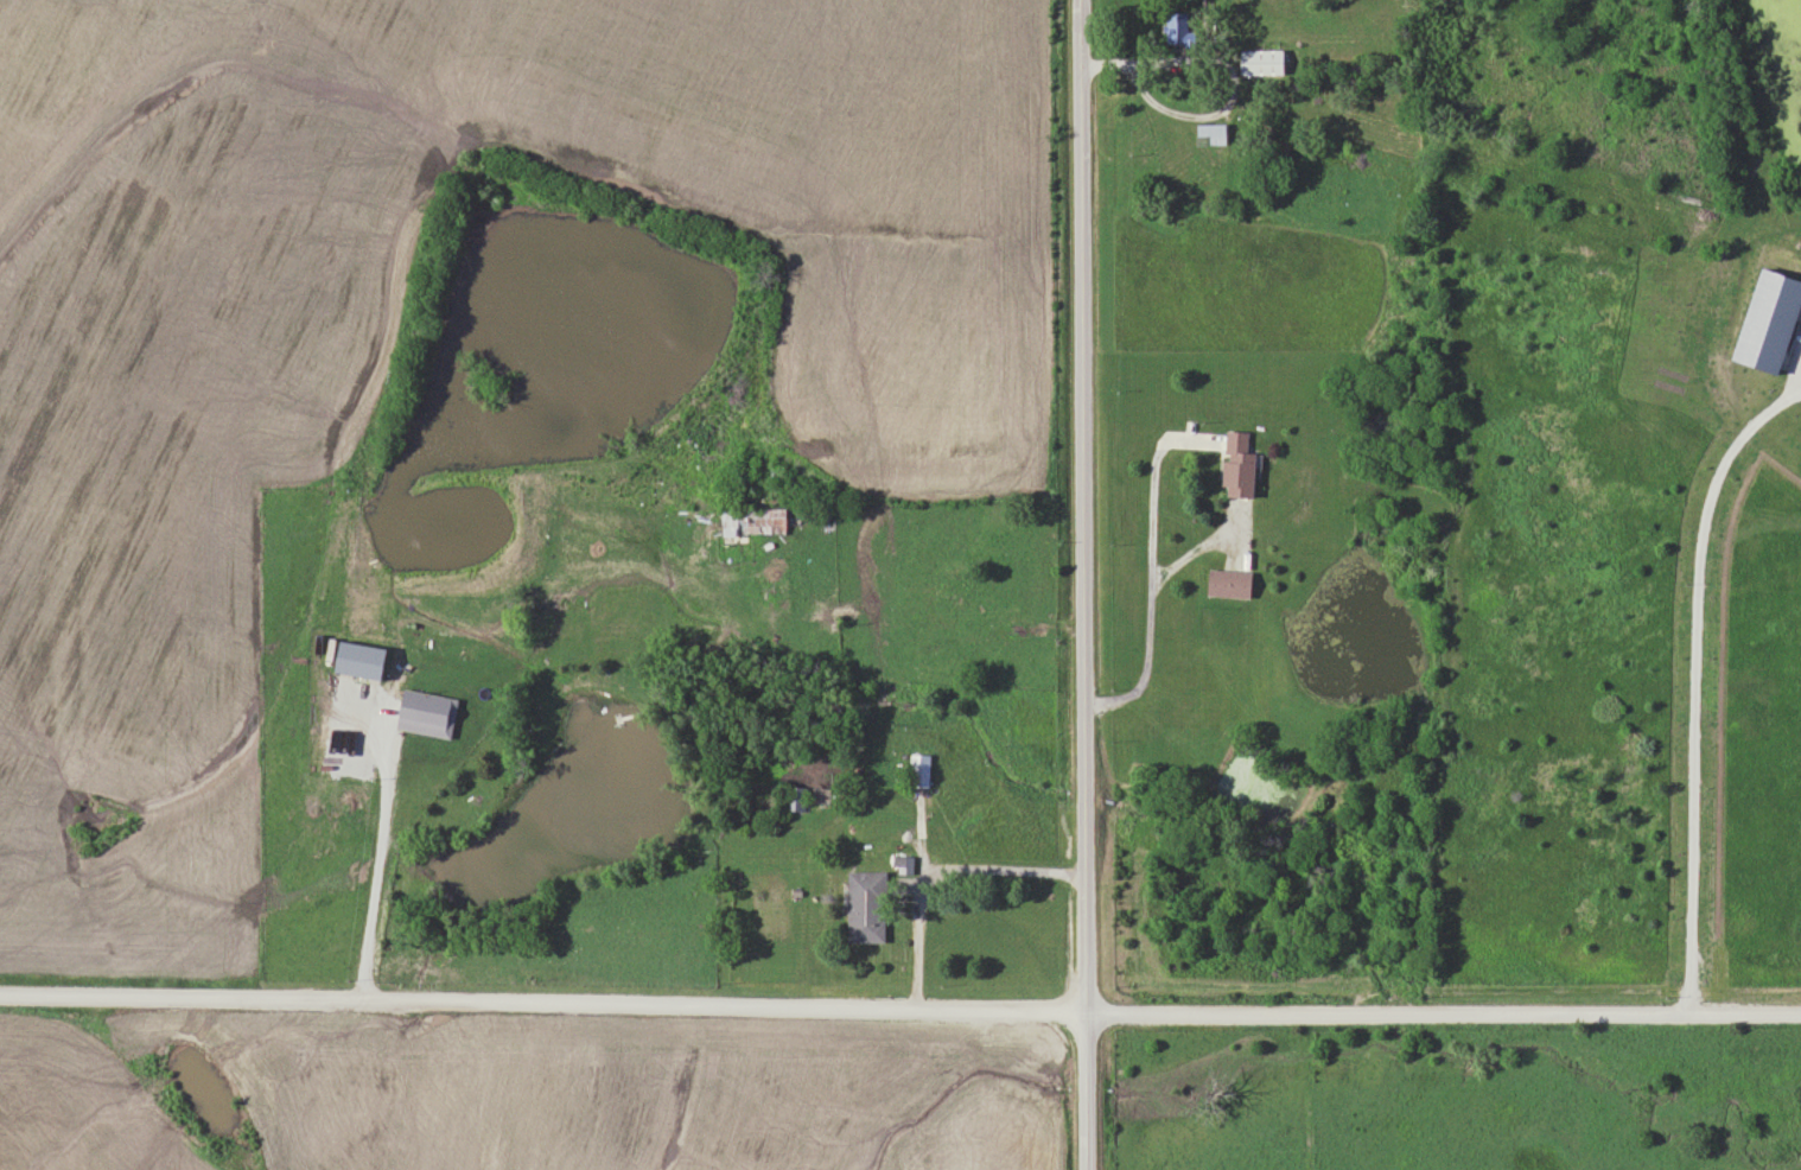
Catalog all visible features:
building: (1173, 27)
building: (1259, 62)
road: (1143, 96)
building: (1211, 135)
building: (1235, 465)
building: (750, 522)
road: (1152, 574)
building: (1226, 583)
road: (1081, 585)
building: (919, 768)
building: (797, 796)
road: (992, 871)
road: (377, 872)
building: (864, 905)
road: (899, 1010)

